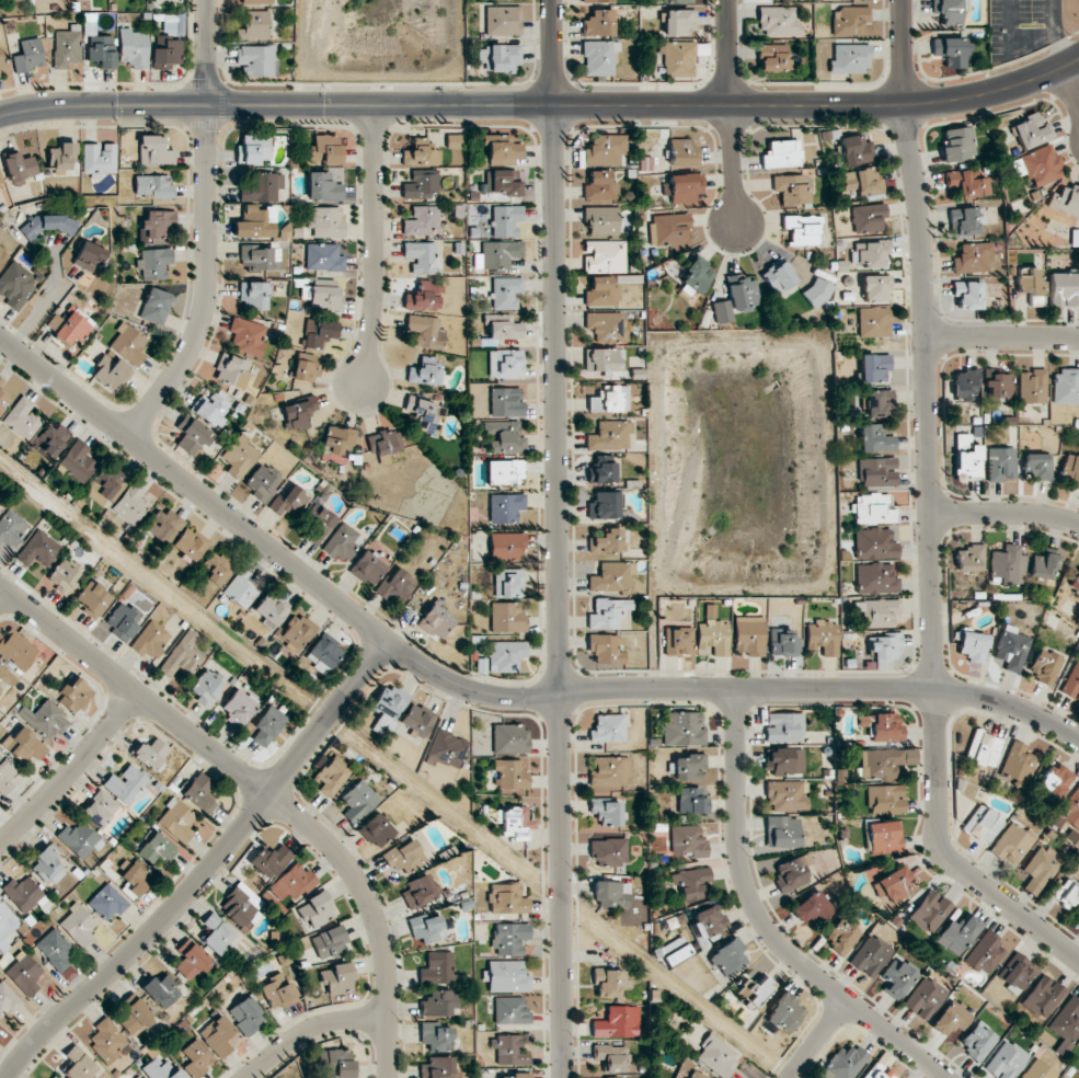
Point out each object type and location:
building: (10, 0)
building: (675, 0)
building: (598, 1)
building: (256, 2)
building: (949, 11)
building: (503, 21)
building: (778, 21)
building: (849, 21)
building: (679, 22)
building: (173, 23)
building: (598, 23)
building: (254, 26)
building: (67, 48)
building: (134, 48)
building: (102, 50)
building: (951, 51)
building: (165, 53)
building: (28, 55)
building: (599, 57)
building: (773, 57)
building: (498, 58)
building: (677, 58)
building: (850, 58)
building: (257, 59)
building: (2, 65)
road: (1069, 89)
road: (542, 105)
road: (728, 111)
building: (1031, 130)
building: (452, 141)
building: (956, 144)
building: (325, 149)
building: (503, 149)
building: (252, 150)
building: (605, 150)
building: (154, 151)
building: (420, 152)
building: (682, 152)
building: (780, 153)
building: (61, 157)
building: (99, 158)
building: (1037, 165)
building: (502, 182)
building: (862, 182)
building: (967, 183)
building: (1, 184)
building: (421, 184)
building: (154, 186)
building: (260, 186)
building: (323, 186)
building: (600, 186)
building: (684, 187)
building: (791, 190)
building: (1066, 200)
building: (869, 218)
building: (506, 220)
building: (602, 220)
building: (325, 221)
building: (422, 221)
building: (964, 221)
building: (254, 222)
building: (156, 225)
road: (206, 229)
building: (802, 229)
building: (669, 230)
road: (375, 244)
building: (500, 253)
building: (870, 253)
building: (3, 256)
building: (89, 256)
building: (421, 256)
building: (605, 256)
building: (323, 257)
building: (973, 257)
building: (260, 259)
building: (153, 263)
building: (697, 275)
building: (778, 277)
building: (16, 284)
building: (1029, 284)
building: (875, 288)
building: (1063, 289)
building: (816, 291)
building: (506, 293)
building: (601, 293)
building: (742, 293)
building: (253, 295)
building: (325, 295)
building: (968, 295)
building: (423, 297)
road: (43, 302)
building: (156, 306)
building: (721, 311)
building: (54, 322)
building: (873, 322)
building: (606, 326)
building: (73, 328)
building: (503, 328)
building: (425, 331)
building: (320, 333)
building: (246, 335)
road: (1001, 336)
building: (128, 344)
building: (604, 359)
building: (505, 363)
building: (305, 366)
building: (874, 367)
building: (231, 370)
building: (425, 371)
building: (110, 372)
building: (1, 381)
building: (965, 386)
building: (996, 387)
building: (1032, 387)
building: (1065, 387)
building: (609, 399)
building: (3, 400)
building: (506, 402)
building: (876, 403)
building: (210, 409)
building: (298, 413)
building: (426, 414)
building: (22, 418)
building: (191, 435)
building: (609, 435)
building: (504, 436)
building: (875, 438)
building: (50, 439)
building: (384, 441)
building: (336, 445)
building: (239, 457)
building: (78, 461)
building: (968, 462)
building: (1000, 463)
building: (1036, 466)
building: (1070, 470)
building: (503, 472)
building: (602, 472)
building: (876, 472)
building: (261, 481)
building: (105, 484)
building: (287, 502)
building: (130, 504)
building: (604, 505)
building: (505, 507)
building: (874, 508)
road: (930, 512)
road: (1006, 514)
building: (163, 525)
building: (318, 525)
building: (11, 528)
road: (556, 538)
building: (607, 541)
building: (343, 542)
building: (190, 543)
building: (875, 543)
building: (506, 547)
building: (38, 549)
building: (971, 558)
building: (1044, 564)
building: (1007, 565)
building: (219, 566)
building: (367, 567)
building: (64, 576)
building: (611, 576)
building: (876, 578)
building: (507, 583)
building: (395, 585)
building: (1075, 585)
building: (240, 589)
road: (2, 593)
building: (92, 598)
building: (271, 609)
building: (881, 612)
building: (608, 613)
building: (507, 617)
building: (123, 620)
building: (436, 621)
building: (296, 633)
building: (712, 634)
building: (748, 635)
building: (823, 638)
building: (150, 640)
building: (678, 641)
building: (782, 642)
building: (974, 645)
building: (885, 646)
building: (16, 649)
building: (606, 649)
building: (1011, 649)
building: (325, 650)
building: (505, 655)
building: (182, 656)
building: (1044, 666)
building: (4, 678)
building: (1071, 683)
building: (207, 687)
road: (484, 693)
building: (74, 695)
building: (239, 707)
building: (388, 708)
building: (416, 719)
building: (45, 720)
building: (267, 725)
building: (882, 726)
building: (783, 727)
building: (608, 729)
building: (682, 729)
building: (509, 738)
building: (24, 744)
building: (983, 748)
building: (446, 749)
building: (150, 754)
building: (784, 761)
building: (885, 762)
building: (1018, 762)
building: (688, 767)
road: (70, 771)
building: (509, 775)
building: (5, 776)
building: (329, 778)
building: (1055, 779)
building: (126, 783)
road: (263, 791)
building: (199, 793)
building: (784, 795)
building: (691, 800)
building: (885, 800)
building: (358, 801)
building: (99, 808)
building: (1071, 810)
building: (607, 812)
building: (176, 821)
building: (515, 823)
building: (983, 824)
building: (376, 830)
building: (783, 832)
building: (883, 836)
building: (78, 839)
building: (688, 840)
building: (1012, 844)
building: (156, 850)
building: (609, 851)
building: (404, 856)
building: (269, 861)
building: (47, 865)
road: (208, 869)
building: (1040, 869)
building: (791, 874)
building: (135, 878)
building: (291, 882)
building: (691, 882)
building: (894, 885)
building: (420, 891)
building: (22, 893)
building: (1065, 893)
building: (607, 894)
building: (507, 898)
building: (107, 902)
building: (241, 906)
building: (812, 907)
building: (315, 910)
building: (930, 911)
building: (1077, 914)
building: (4, 916)
building: (710, 921)
road: (765, 924)
building: (78, 925)
building: (426, 928)
building: (957, 934)
building: (841, 936)
building: (218, 937)
building: (509, 938)
building: (328, 942)
building: (55, 949)
building: (675, 951)
building: (985, 953)
building: (871, 955)
building: (728, 959)
building: (191, 960)
building: (437, 968)
building: (23, 973)
building: (1014, 973)
building: (507, 976)
building: (338, 978)
building: (897, 978)
building: (608, 982)
building: (161, 990)
building: (277, 990)
building: (755, 990)
building: (1043, 996)
building: (925, 998)
building: (8, 999)
building: (437, 1004)
building: (512, 1010)
building: (785, 1013)
building: (246, 1016)
building: (134, 1017)
building: (951, 1018)
building: (1066, 1022)
building: (618, 1023)
road: (310, 1031)
building: (217, 1035)
building: (435, 1037)
road: (816, 1039)
building: (106, 1041)
building: (977, 1041)
building: (512, 1050)
building: (716, 1056)
building: (610, 1057)
building: (196, 1058)
building: (1006, 1060)
building: (845, 1063)
building: (79, 1064)
building: (336, 1064)
building: (437, 1068)
building: (686, 1069)
building: (161, 1070)
building: (1040, 1070)
building: (877, 1071)
building: (515, 1076)
building: (51, 1077)

